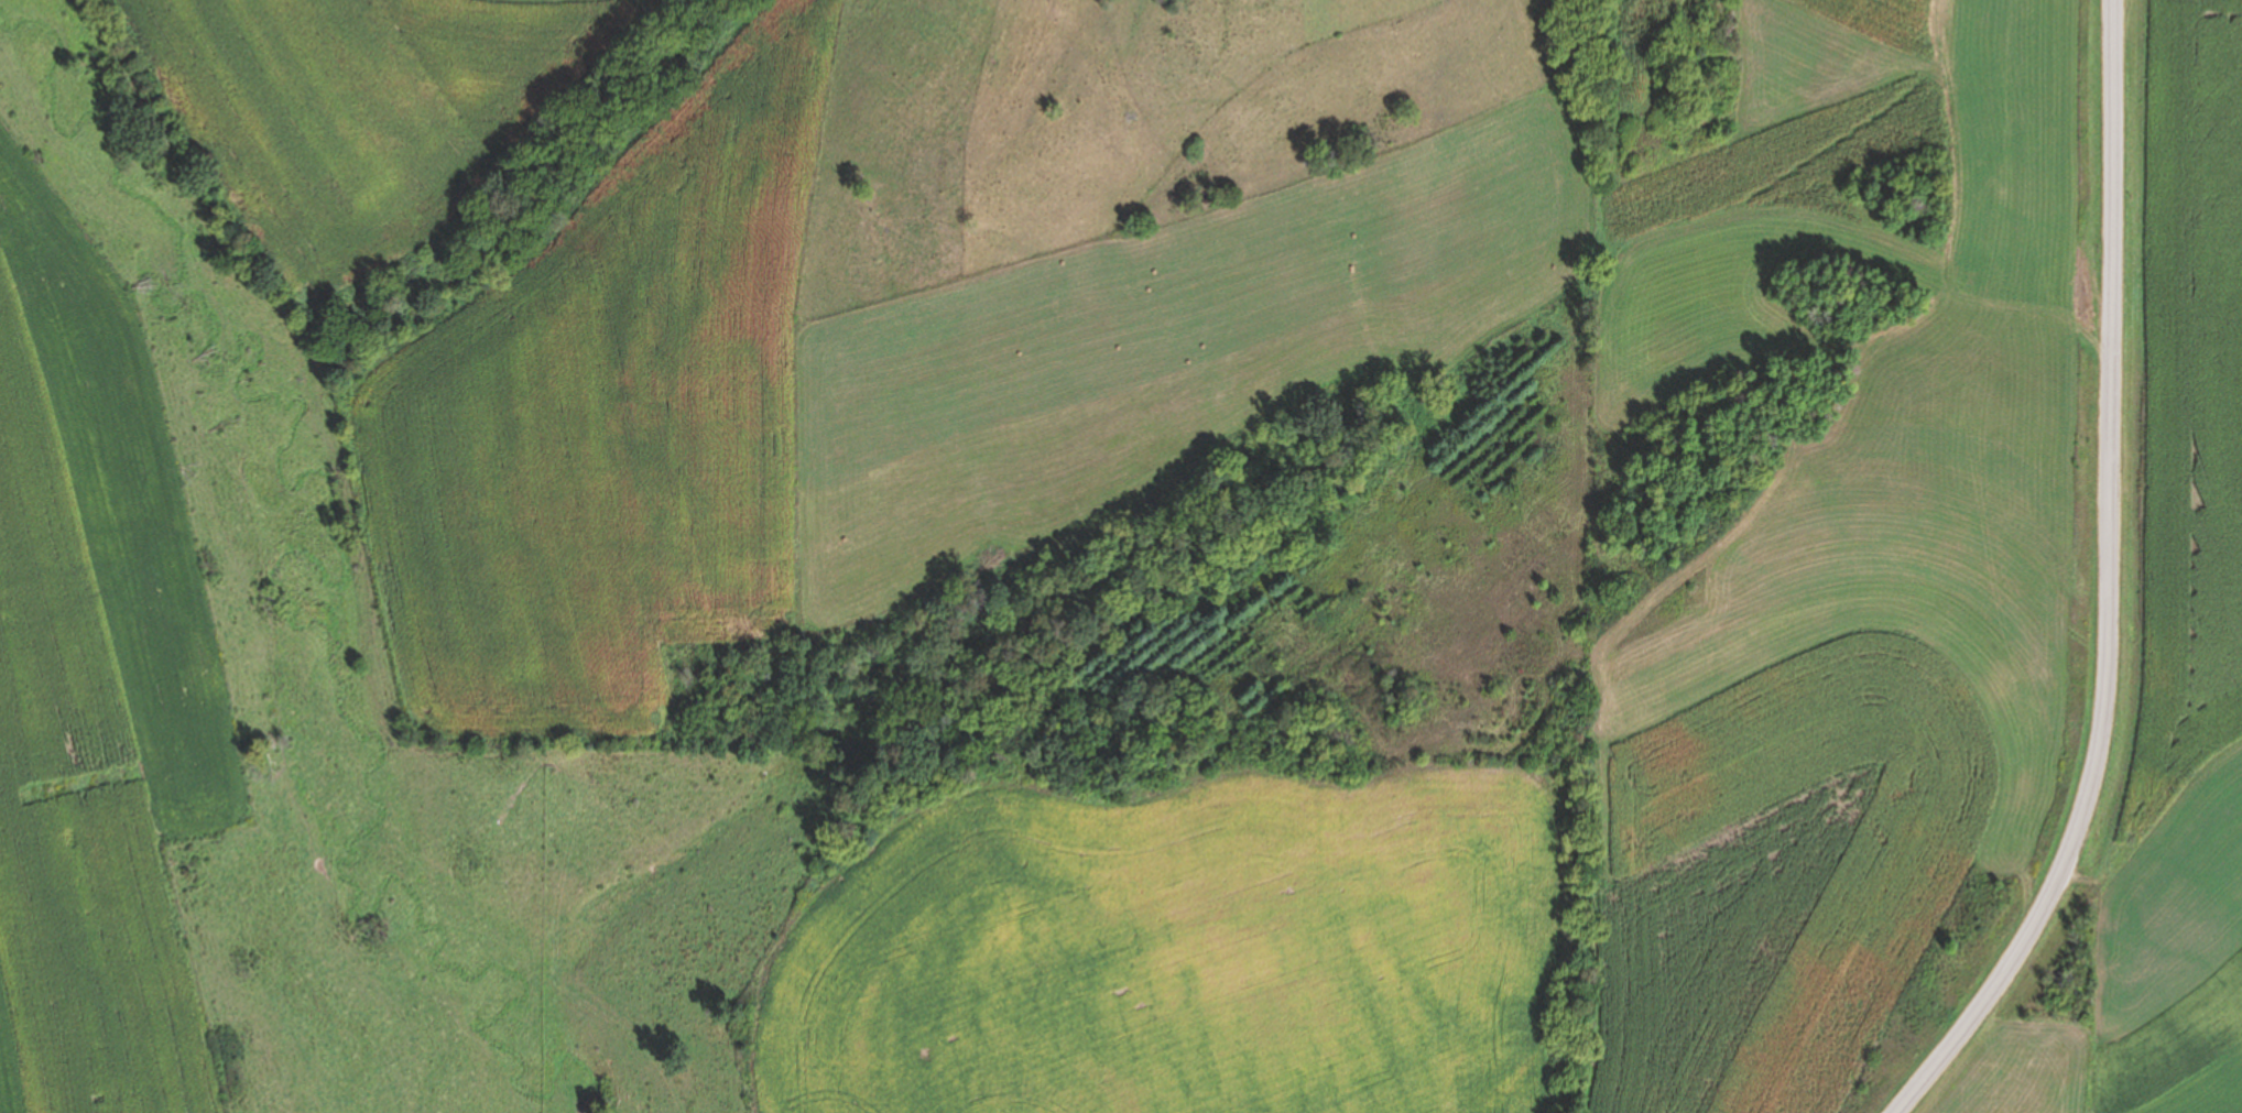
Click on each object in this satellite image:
road: (2114, 585)

